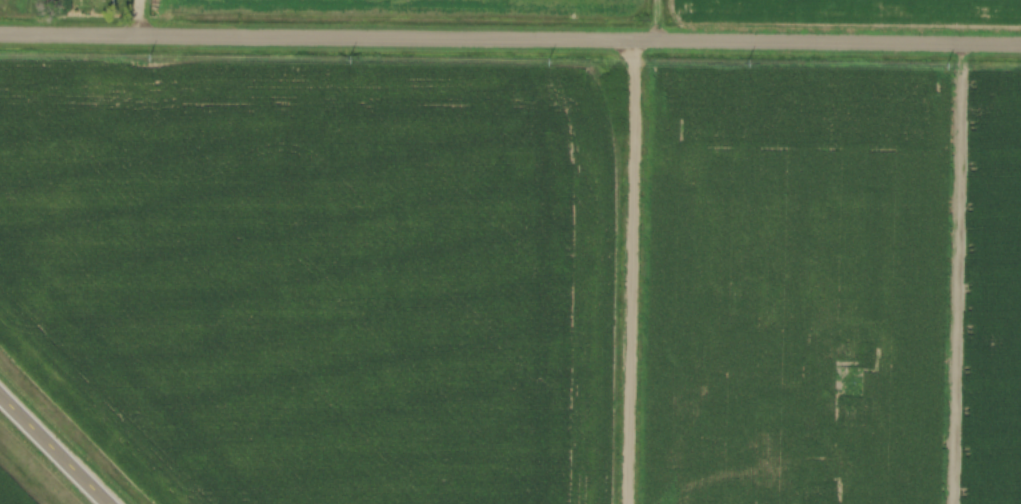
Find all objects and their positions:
road: (140, 19)
road: (510, 41)
road: (630, 273)
building: (763, 404)
road: (54, 448)
building: (730, 496)

